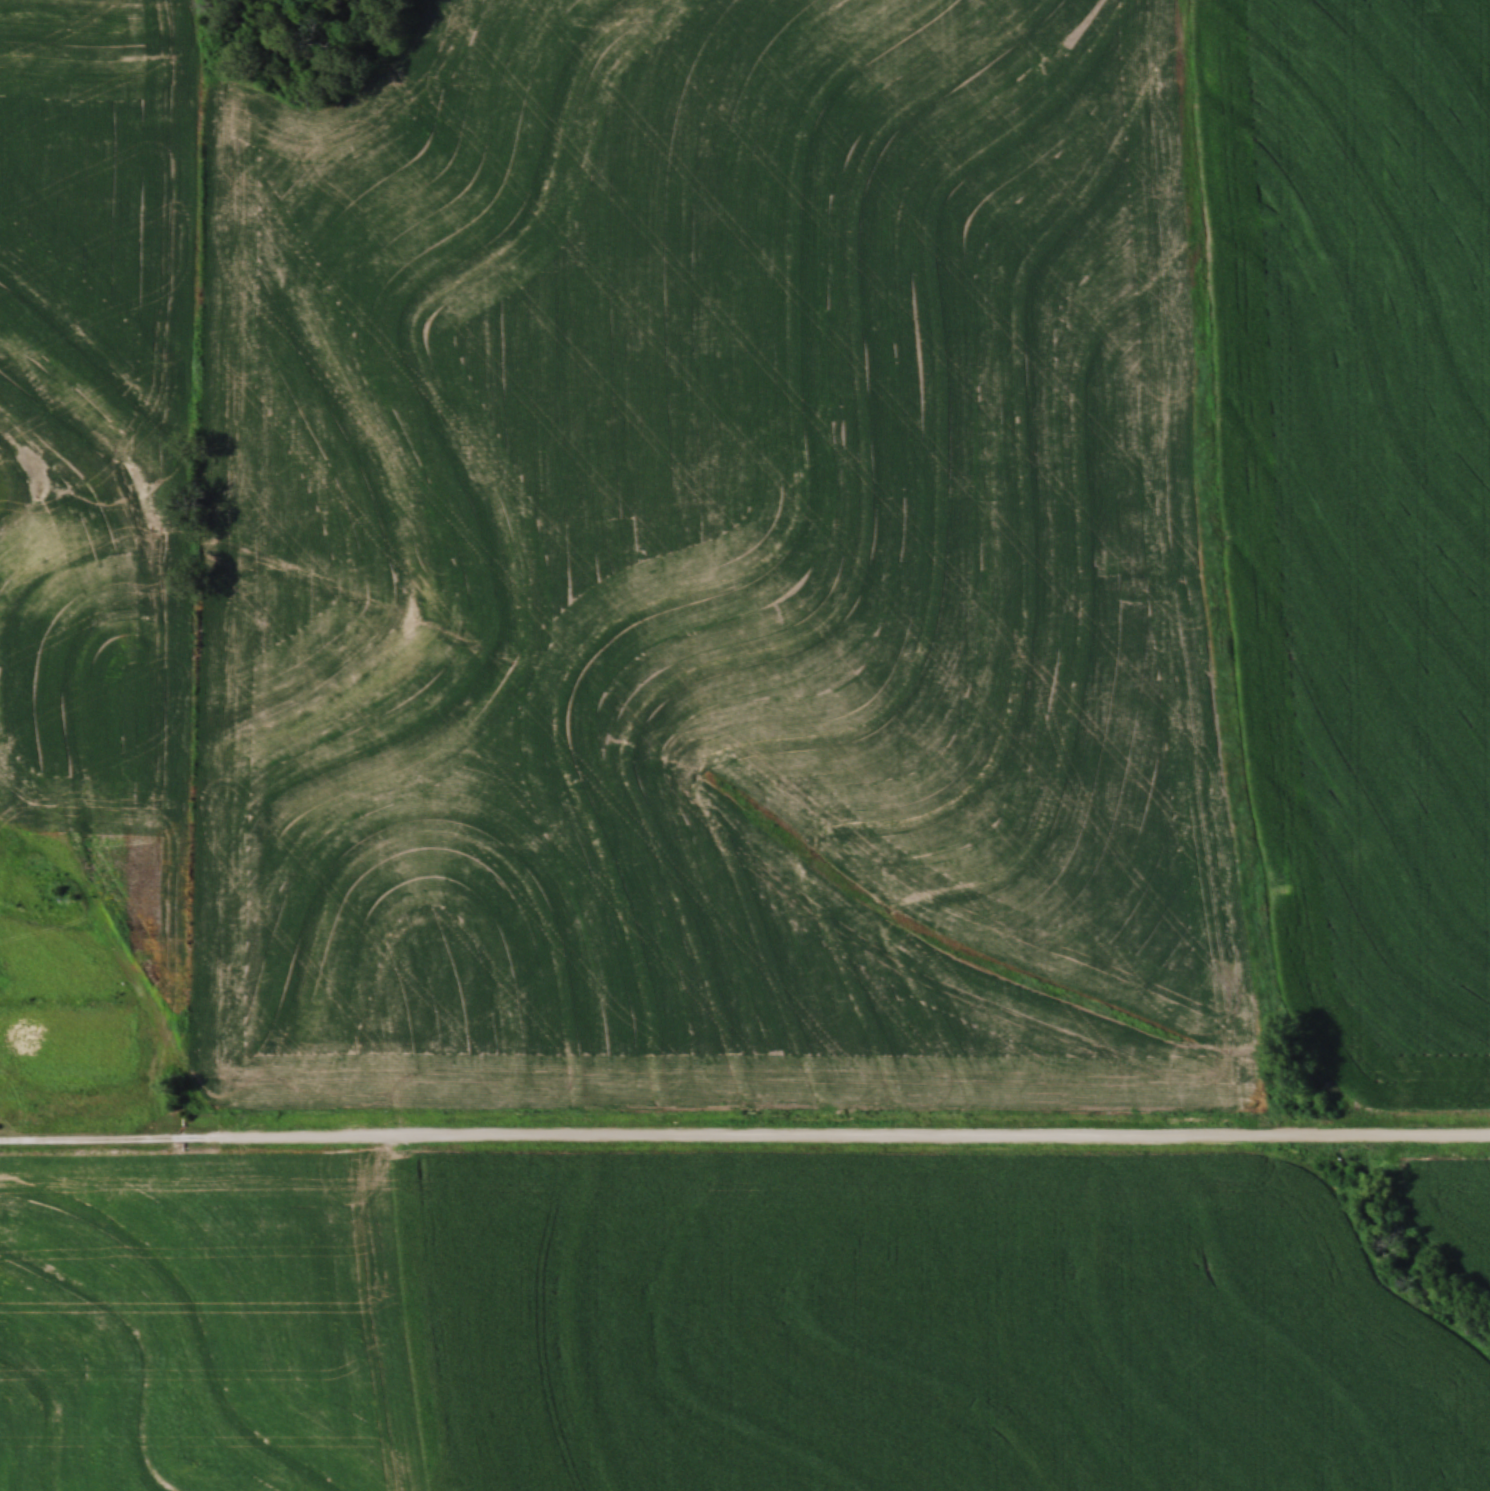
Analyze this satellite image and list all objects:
road: (745, 1140)

